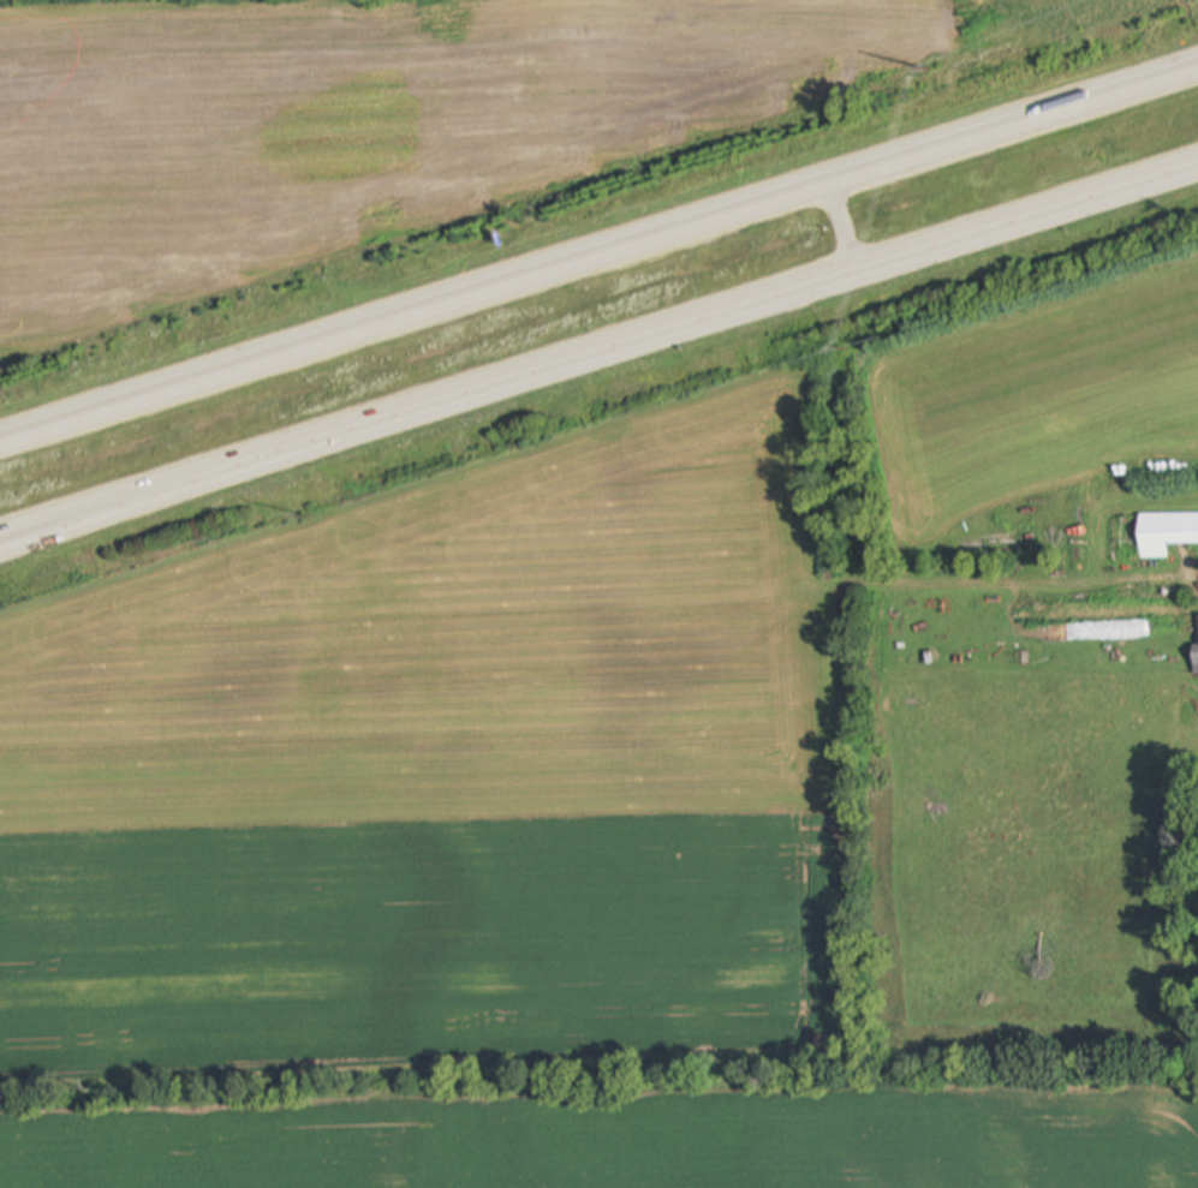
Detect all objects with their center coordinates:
road: (846, 234)
road: (598, 261)
road: (774, 305)
road: (175, 492)
building: (1166, 531)
building: (1196, 645)

